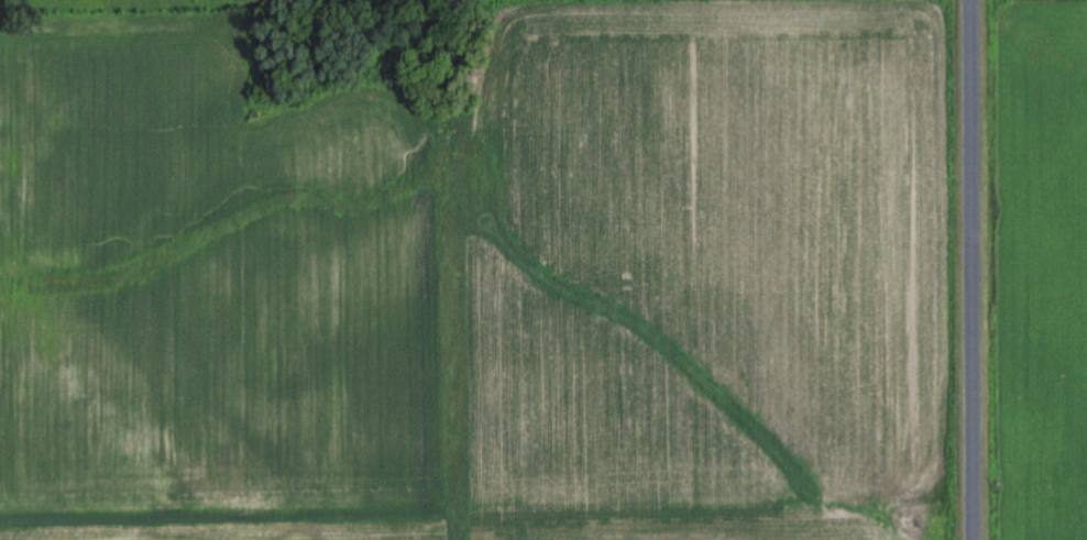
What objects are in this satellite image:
road: (971, 269)

